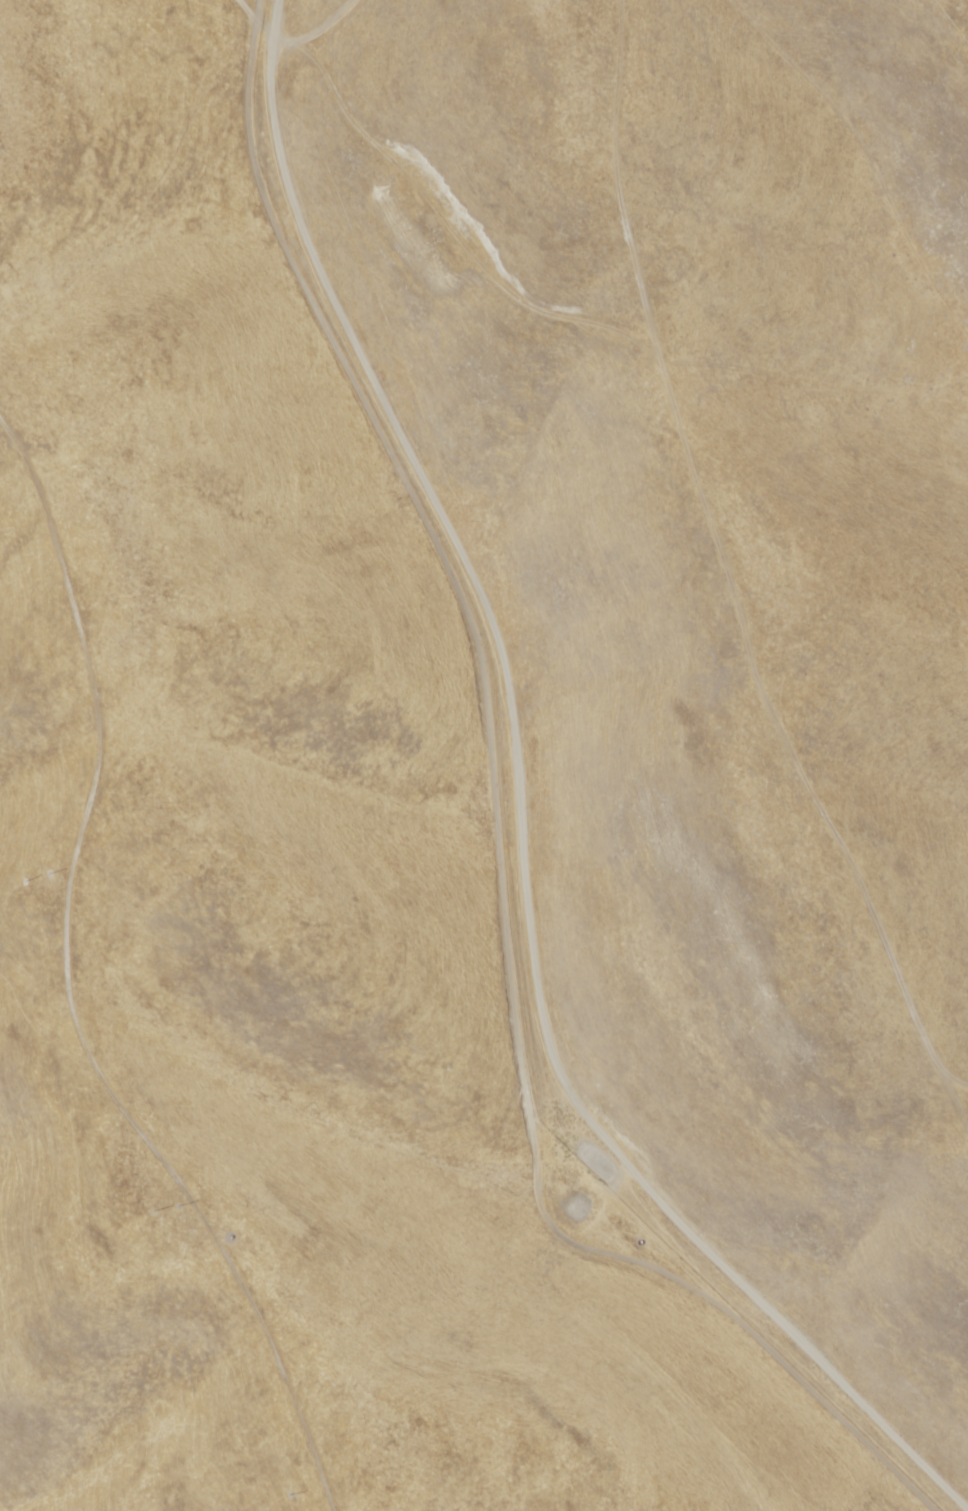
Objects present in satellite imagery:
road: (450, 798)

